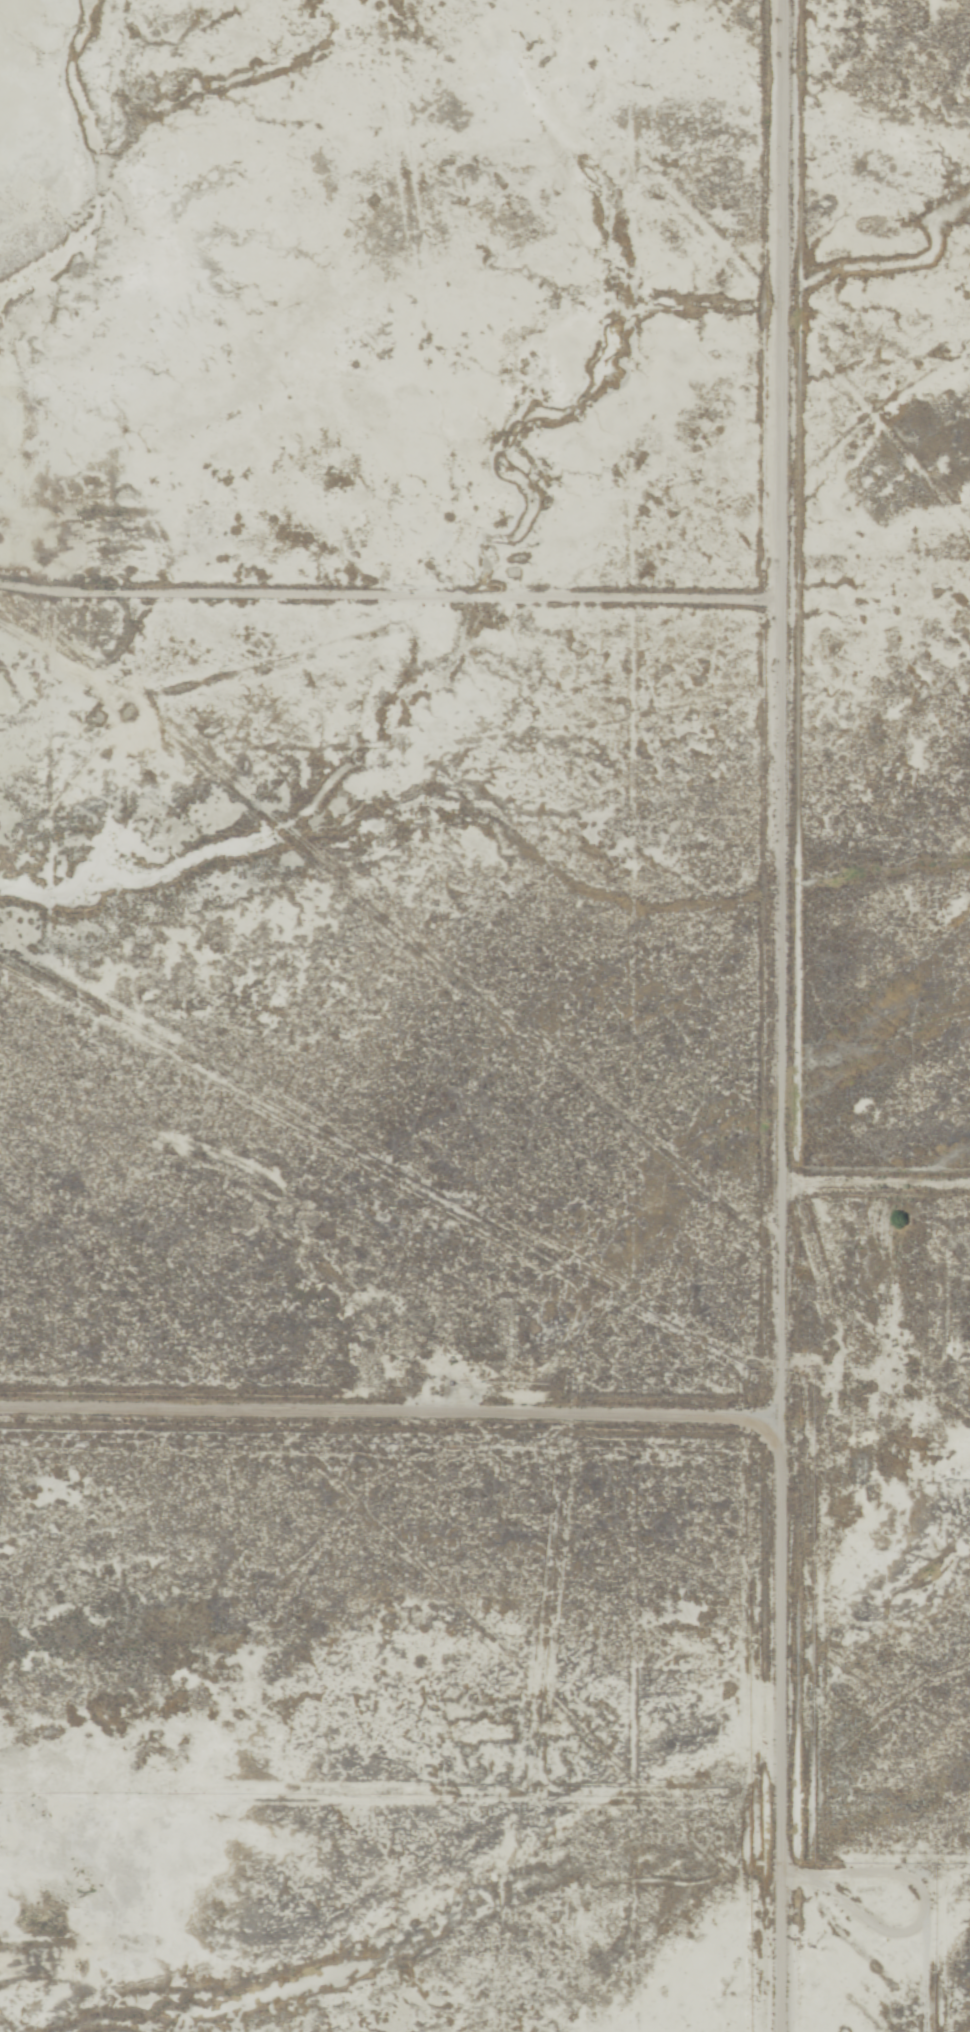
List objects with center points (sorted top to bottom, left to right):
road: (391, 601)
road: (783, 1016)
road: (876, 1193)
road: (388, 1429)

